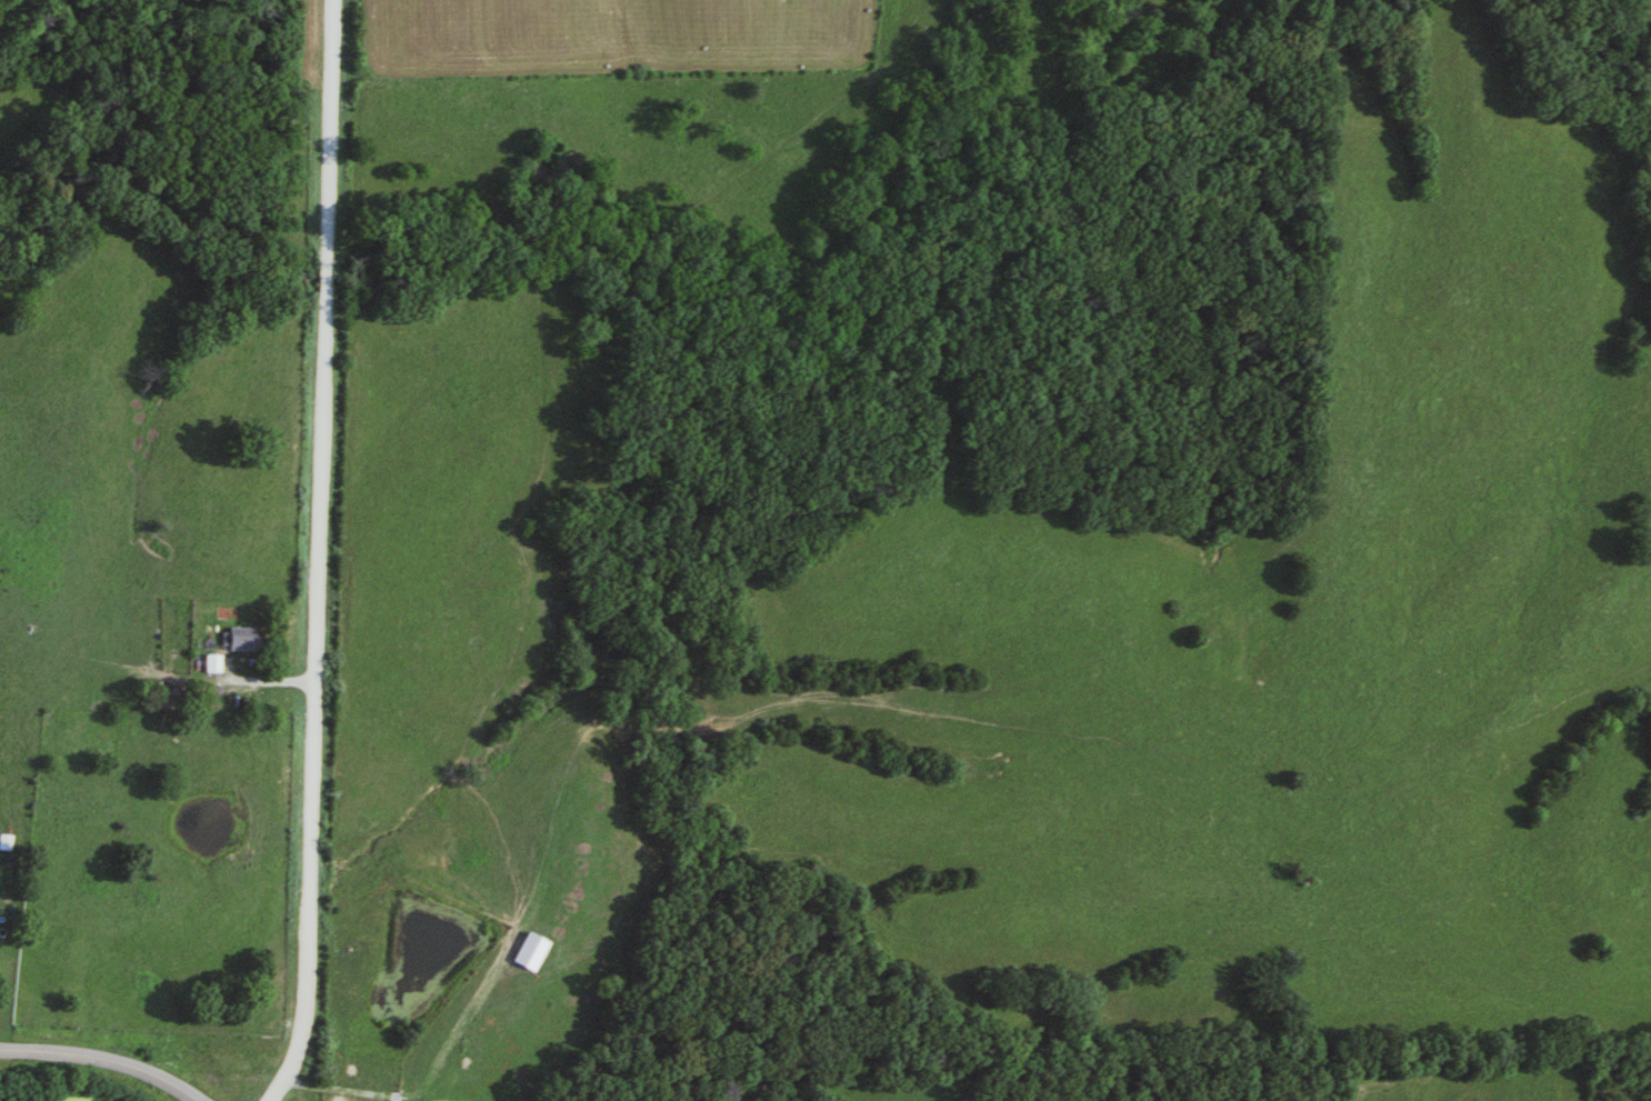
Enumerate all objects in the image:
road: (317, 554)
building: (249, 637)
building: (217, 662)
building: (6, 842)
building: (524, 952)
road: (101, 1061)

